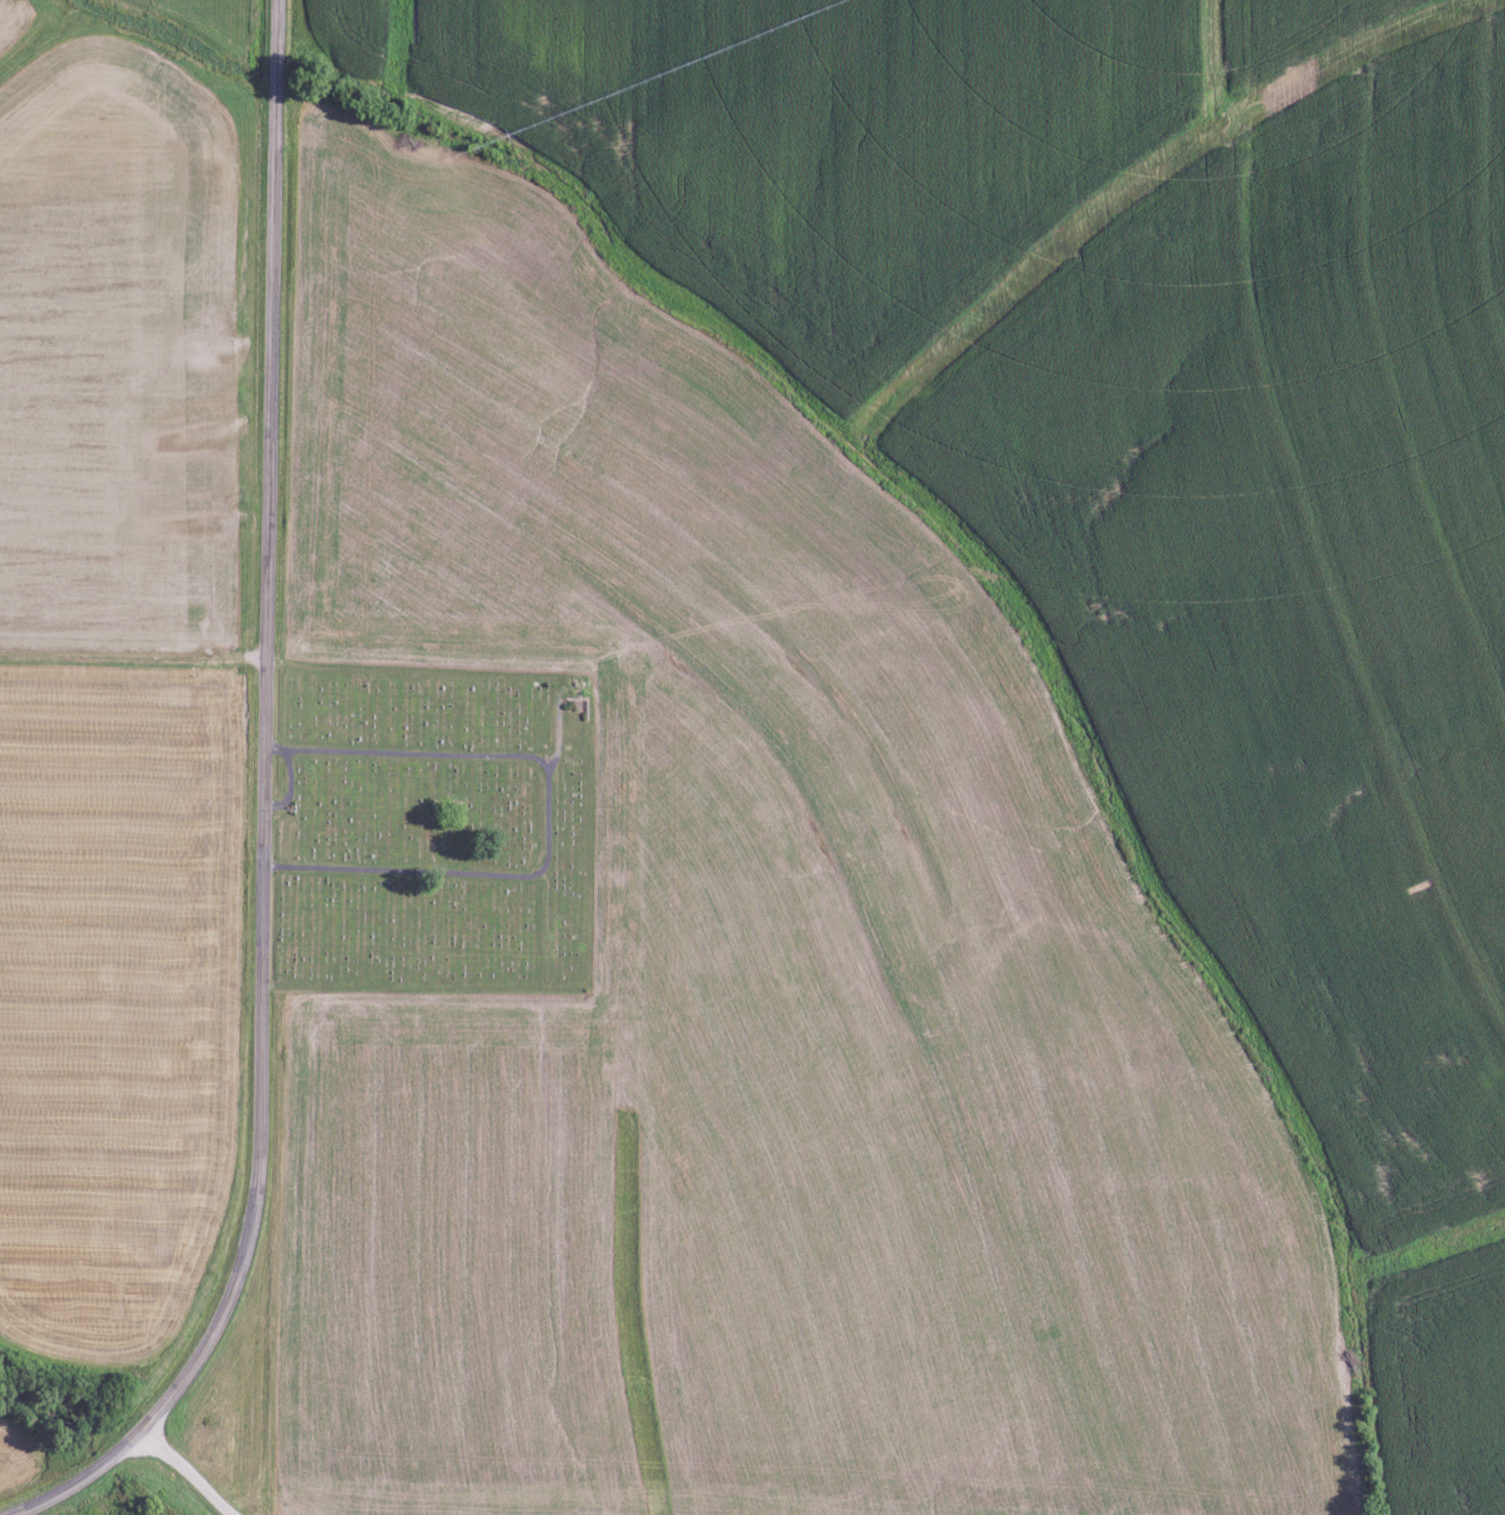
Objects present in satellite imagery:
road: (263, 810)
park: (432, 827)
road: (192, 1473)

